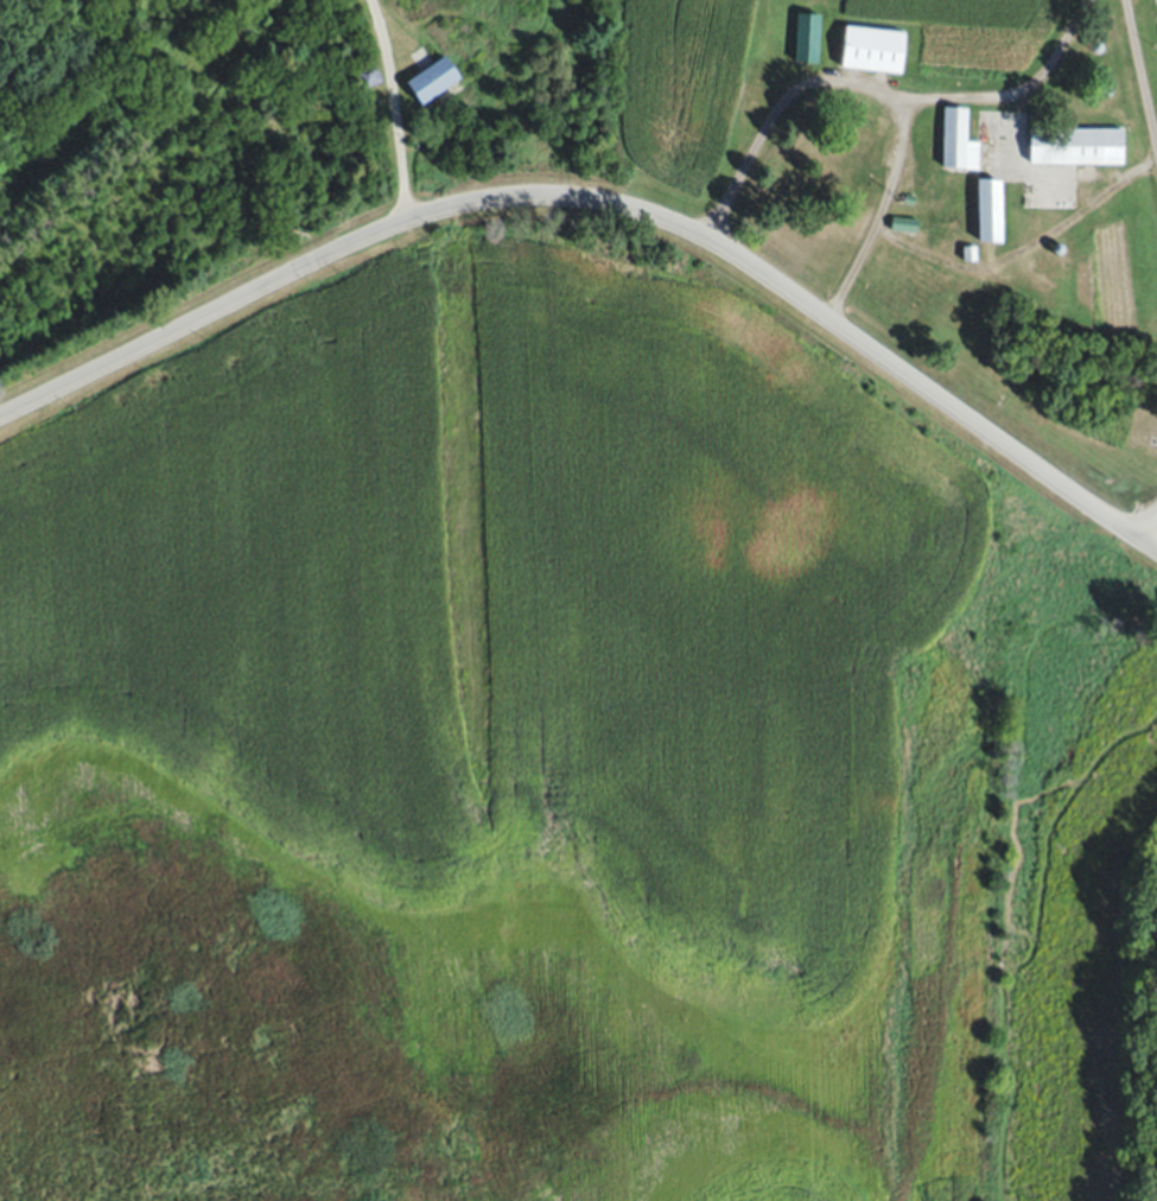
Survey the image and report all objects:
building: (806, 37)
building: (872, 47)
road: (1140, 66)
building: (368, 75)
building: (433, 80)
road: (1019, 87)
road: (884, 93)
road: (396, 108)
building: (425, 113)
building: (866, 120)
building: (955, 138)
building: (1075, 145)
building: (859, 163)
road: (605, 202)
building: (987, 210)
building: (1036, 216)
building: (903, 224)
building: (968, 253)
building: (1038, 265)
building: (1053, 269)
building: (990, 287)
road: (1153, 540)
quarry: (1155, 542)

